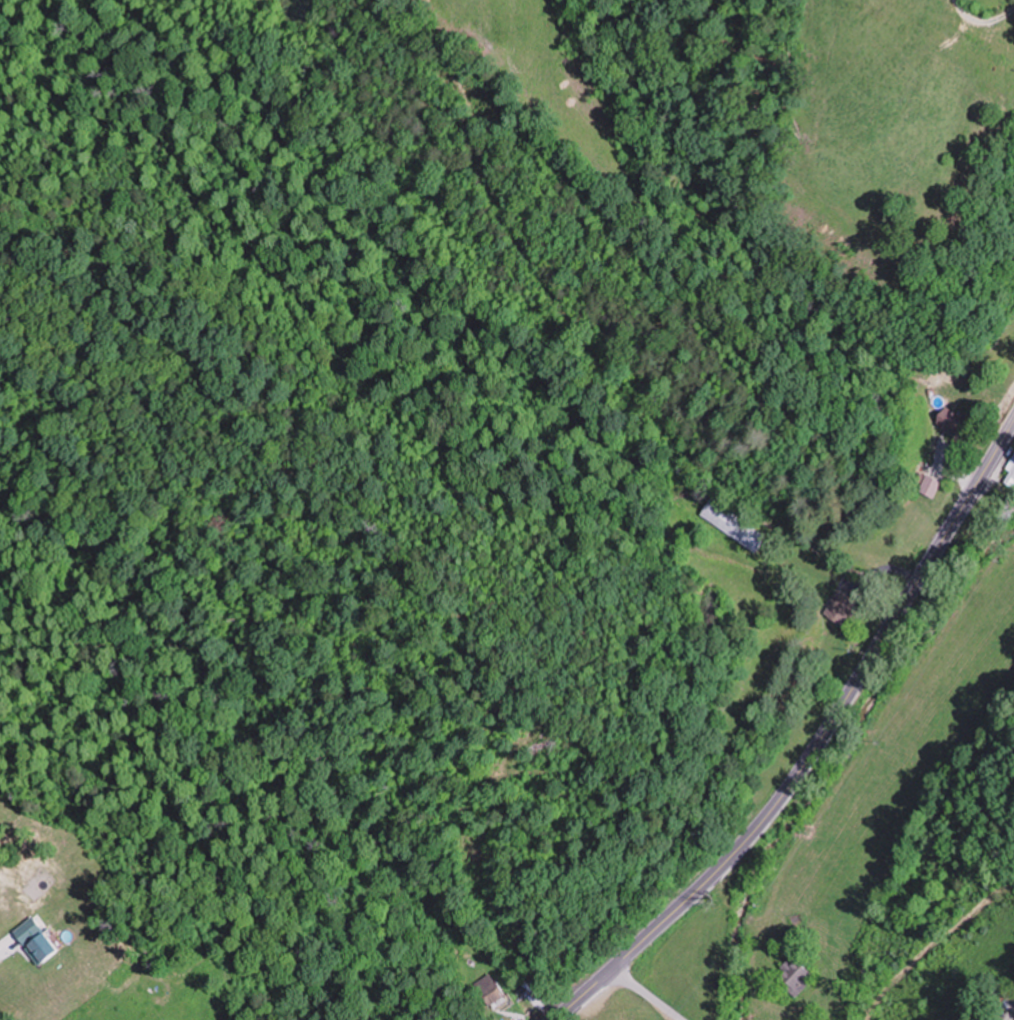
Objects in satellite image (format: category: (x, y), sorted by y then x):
building: (953, 422)
building: (1011, 473)
building: (930, 486)
building: (733, 524)
building: (841, 608)
road: (815, 745)
building: (35, 928)
road: (6, 945)
building: (49, 946)
building: (33, 950)
building: (794, 977)
building: (490, 988)
road: (647, 994)

